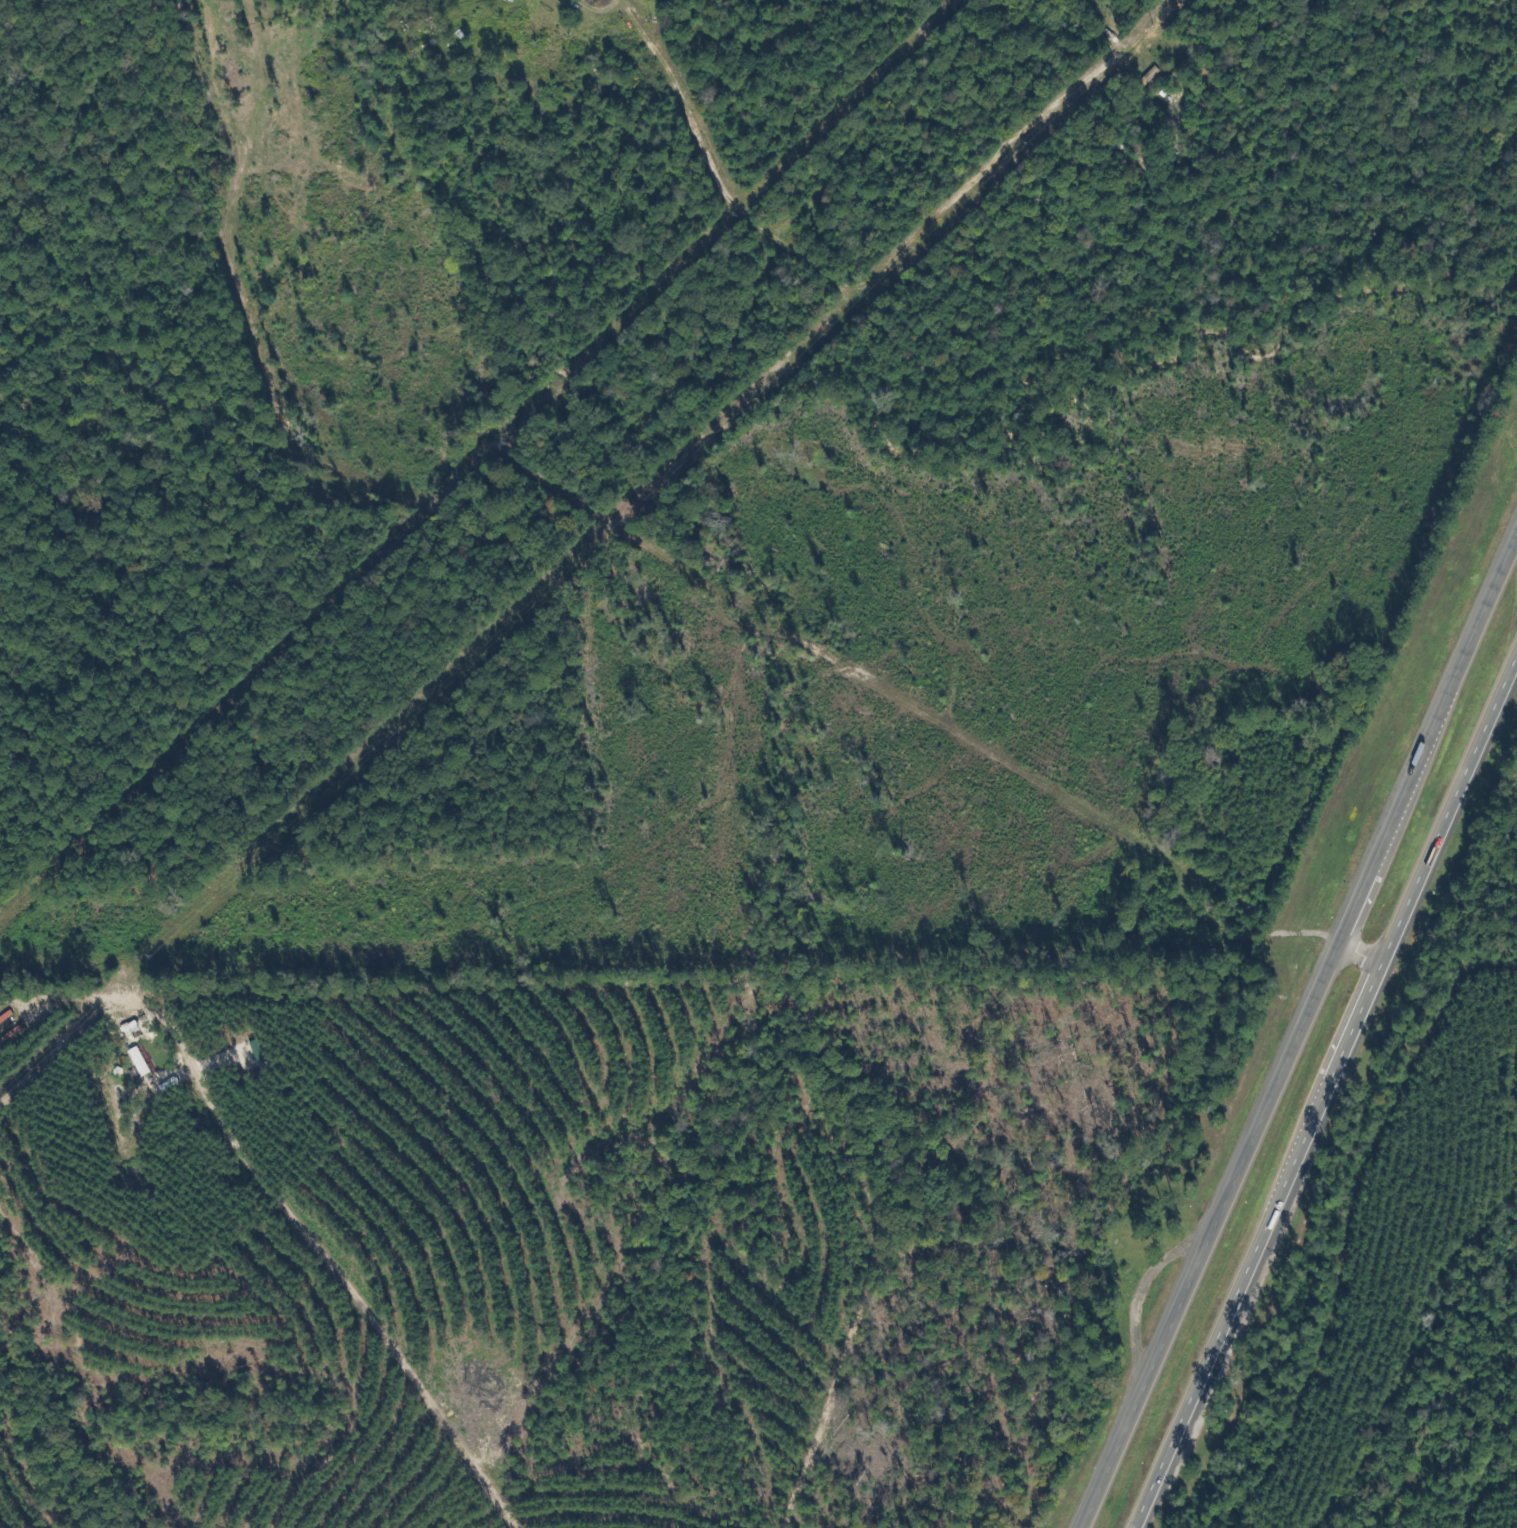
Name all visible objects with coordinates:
building: (1244, 904)
road: (1358, 948)
road: (1295, 1020)
road: (1328, 1090)

